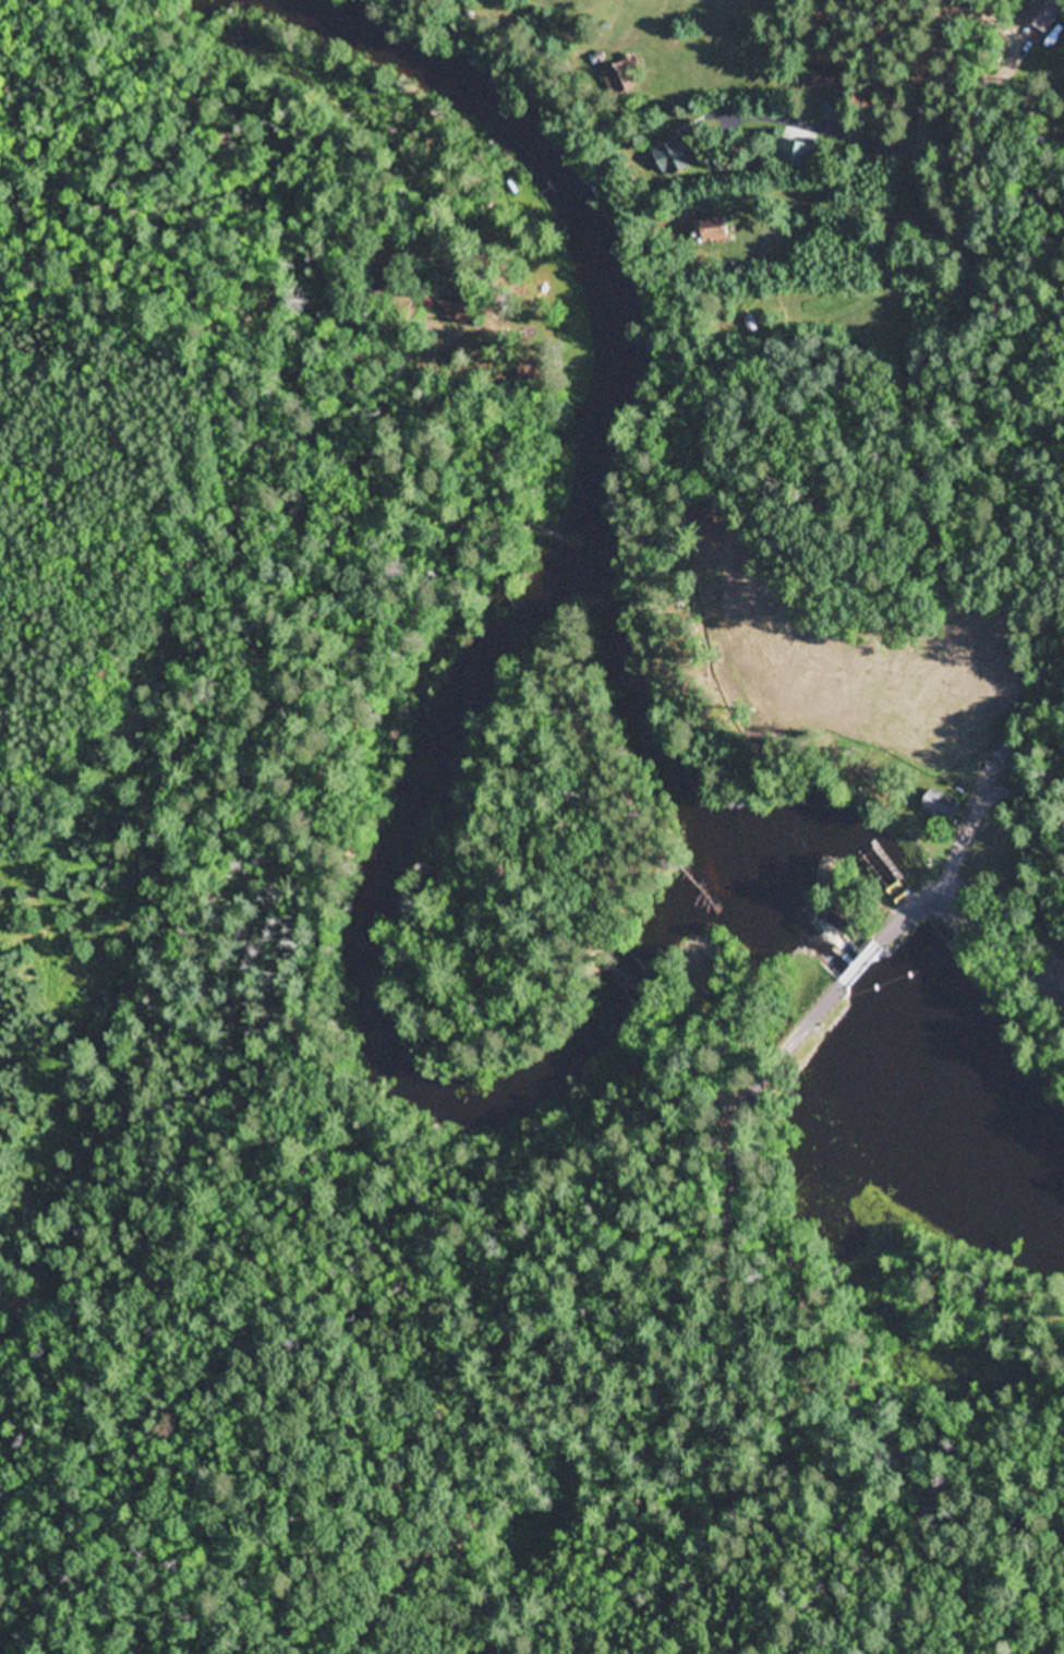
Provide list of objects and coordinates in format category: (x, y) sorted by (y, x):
building: (625, 76)
building: (827, 80)
building: (679, 156)
road: (1005, 172)
river: (578, 213)
building: (720, 230)
building: (465, 301)
building: (411, 316)
road: (1050, 352)
building: (460, 365)
building: (534, 370)
building: (1004, 752)
building: (942, 805)
river: (793, 911)
road: (977, 919)
road: (859, 967)
dam: (849, 982)
river: (372, 1016)
road: (771, 1338)

